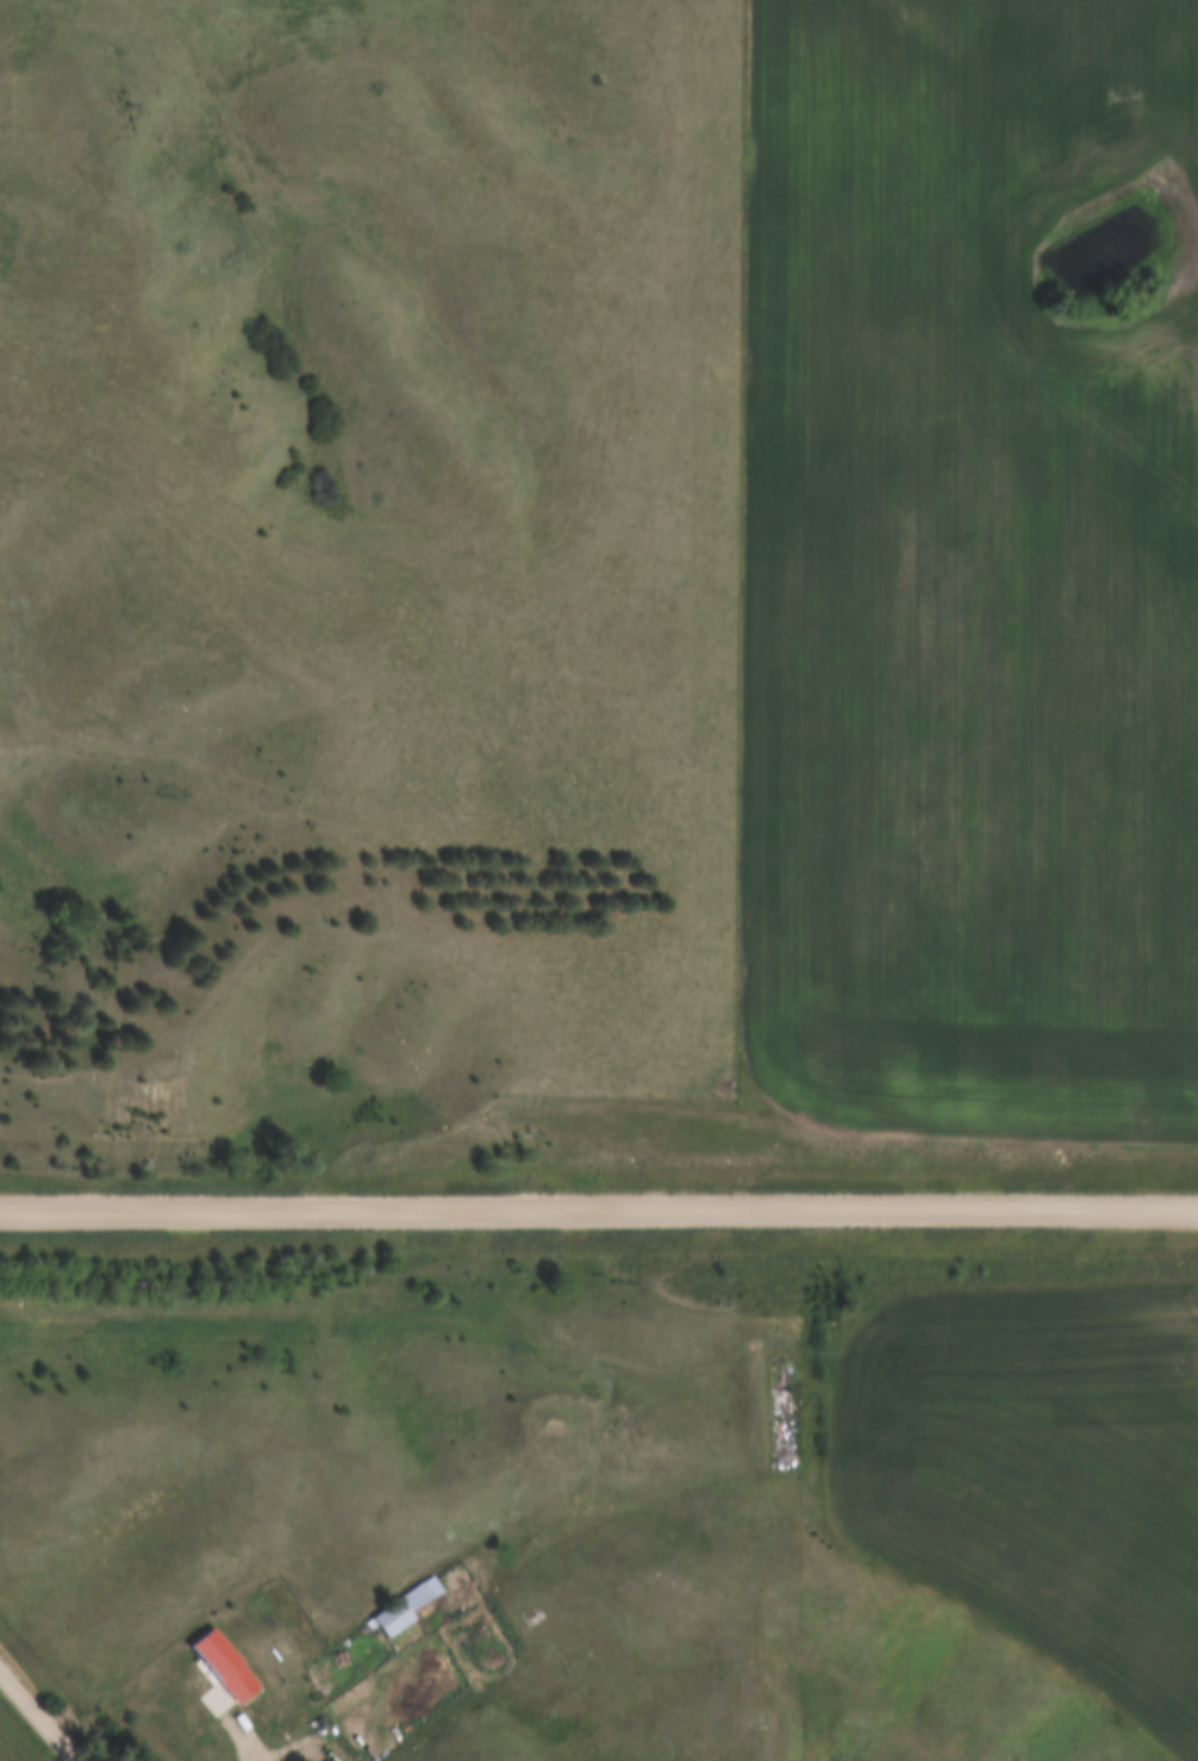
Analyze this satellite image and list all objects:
road: (599, 1205)
building: (418, 1608)
building: (237, 1675)
road: (39, 1715)
road: (224, 1717)

